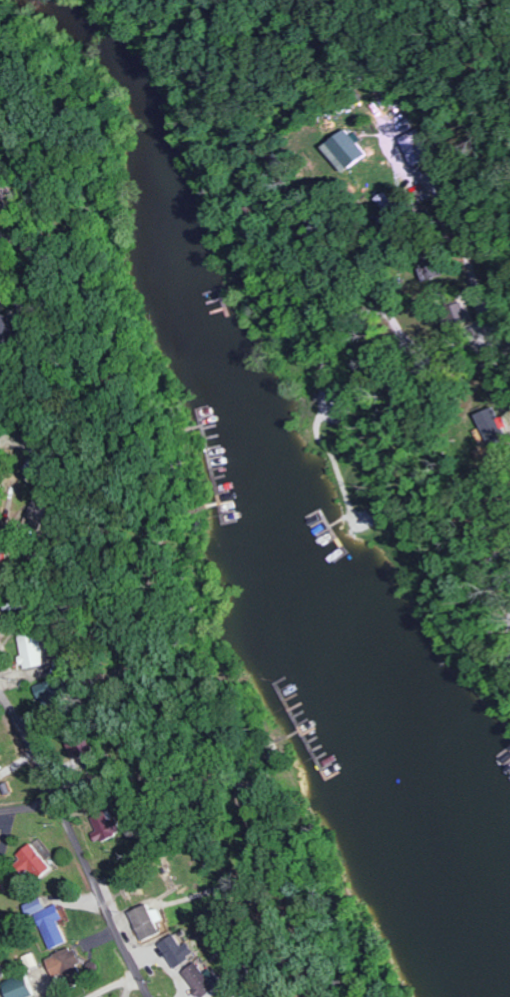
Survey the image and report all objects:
building: (413, 147)
building: (346, 149)
building: (12, 328)
building: (490, 423)
building: (37, 467)
building: (38, 512)
building: (15, 605)
building: (32, 648)
building: (50, 692)
road: (10, 707)
road: (38, 758)
road: (30, 805)
building: (109, 825)
building: (35, 864)
building: (11, 876)
building: (2, 879)
road: (106, 899)
building: (150, 922)
building: (50, 923)
building: (181, 951)
building: (67, 964)
building: (202, 980)

